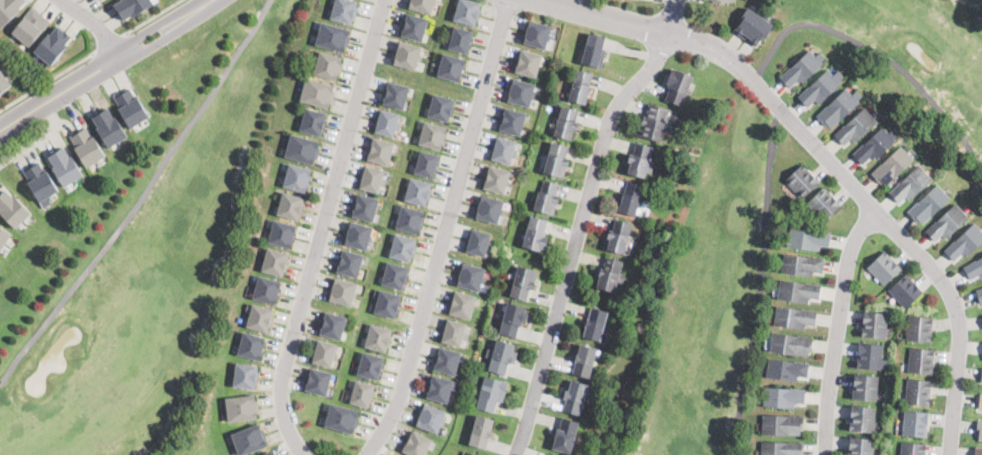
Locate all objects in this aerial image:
building: (100, 0)
building: (719, 1)
building: (422, 5)
building: (132, 7)
building: (9, 10)
building: (344, 11)
building: (468, 12)
road: (151, 16)
road: (603, 17)
road: (670, 17)
road: (94, 24)
road: (159, 24)
building: (753, 26)
building: (31, 27)
building: (414, 27)
road: (171, 32)
building: (537, 35)
building: (333, 37)
building: (460, 40)
road: (107, 42)
building: (53, 45)
building: (594, 51)
building: (407, 55)
building: (528, 63)
building: (328, 66)
building: (451, 68)
building: (802, 69)
road: (45, 81)
building: (4, 83)
building: (580, 87)
building: (678, 87)
road: (60, 89)
building: (820, 89)
building: (521, 92)
building: (318, 93)
building: (395, 95)
road: (768, 106)
building: (441, 108)
building: (839, 108)
building: (131, 111)
building: (313, 122)
building: (512, 122)
building: (387, 123)
building: (655, 123)
building: (566, 124)
building: (857, 126)
building: (109, 128)
building: (433, 136)
road: (39, 137)
building: (874, 146)
building: (86, 147)
building: (302, 149)
building: (503, 150)
building: (380, 151)
building: (557, 160)
building: (640, 161)
building: (427, 164)
building: (64, 167)
building: (893, 167)
building: (298, 178)
building: (372, 179)
building: (496, 180)
building: (40, 182)
building: (802, 182)
building: (911, 185)
building: (419, 192)
building: (547, 198)
road: (143, 199)
building: (630, 199)
park: (755, 203)
building: (824, 204)
building: (929, 204)
building: (291, 206)
road: (875, 207)
building: (365, 208)
building: (489, 209)
building: (12, 210)
building: (410, 220)
building: (947, 223)
road: (323, 228)
road: (445, 230)
building: (282, 234)
building: (536, 235)
building: (358, 236)
building: (618, 237)
building: (3, 238)
road: (575, 238)
building: (807, 239)
building: (478, 243)
building: (966, 243)
building: (403, 248)
park: (148, 257)
building: (275, 262)
building: (350, 264)
building: (802, 266)
building: (885, 268)
building: (974, 269)
building: (610, 275)
building: (396, 276)
building: (470, 277)
building: (523, 283)
building: (267, 290)
building: (798, 291)
building: (906, 291)
building: (342, 292)
building: (979, 295)
building: (386, 304)
building: (462, 305)
building: (259, 318)
building: (794, 318)
building: (514, 320)
building: (596, 325)
building: (874, 325)
building: (332, 326)
road: (839, 328)
building: (919, 330)
building: (454, 333)
building: (378, 339)
building: (791, 345)
building: (252, 346)
building: (324, 354)
building: (870, 357)
building: (503, 358)
building: (447, 361)
building: (584, 361)
building: (921, 361)
building: (485, 364)
building: (371, 366)
building: (786, 370)
building: (246, 376)
building: (981, 377)
building: (318, 382)
building: (865, 387)
building: (440, 389)
building: (918, 392)
building: (362, 394)
building: (492, 394)
building: (575, 397)
building: (783, 397)
building: (980, 402)
building: (242, 408)
building: (431, 418)
building: (342, 419)
building: (862, 419)
building: (915, 424)
building: (782, 425)
building: (979, 430)
building: (482, 433)
building: (565, 436)
building: (249, 440)
building: (416, 444)
building: (861, 446)
building: (782, 448)
building: (913, 449)
building: (978, 451)
building: (268, 453)
building: (397, 454)
building: (465, 454)
building: (550, 454)

